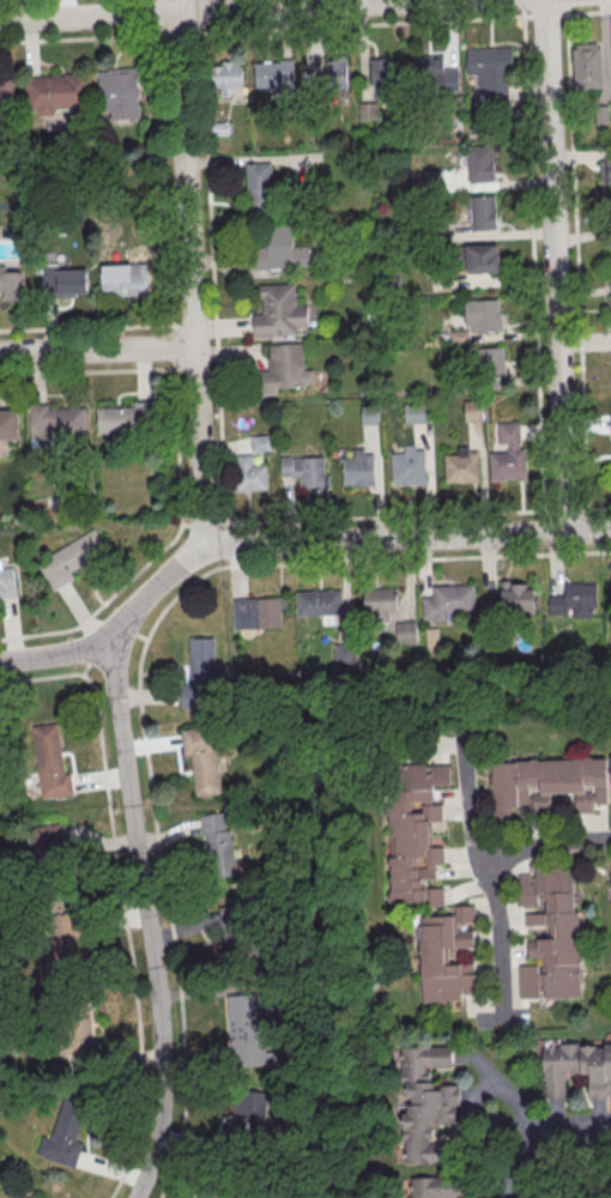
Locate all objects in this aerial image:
road: (193, 8)
road: (588, 12)
road: (99, 37)
building: (491, 65)
building: (587, 65)
building: (226, 75)
building: (381, 78)
building: (119, 92)
building: (479, 163)
building: (605, 170)
building: (259, 183)
building: (483, 212)
building: (277, 247)
road: (575, 254)
road: (531, 255)
building: (480, 258)
road: (210, 261)
road: (553, 265)
road: (192, 273)
building: (123, 280)
building: (12, 282)
building: (69, 282)
building: (610, 302)
building: (279, 311)
building: (482, 314)
road: (98, 346)
building: (491, 362)
building: (284, 369)
building: (472, 410)
building: (416, 412)
building: (369, 416)
building: (126, 419)
building: (54, 420)
building: (8, 423)
building: (261, 442)
building: (407, 465)
building: (508, 465)
building: (460, 467)
building: (304, 470)
building: (356, 470)
building: (250, 473)
road: (417, 515)
road: (284, 541)
building: (71, 557)
road: (415, 558)
building: (6, 582)
building: (570, 597)
building: (610, 597)
building: (379, 600)
building: (446, 601)
building: (316, 603)
building: (509, 603)
building: (254, 610)
building: (406, 631)
building: (345, 658)
building: (201, 674)
building: (202, 758)
building: (50, 761)
building: (610, 772)
building: (545, 785)
building: (415, 833)
building: (48, 842)
building: (219, 843)
road: (546, 845)
building: (610, 866)
road: (490, 875)
building: (610, 881)
road: (147, 920)
building: (235, 930)
building: (549, 934)
building: (446, 955)
building: (253, 1030)
building: (576, 1066)
building: (427, 1103)
building: (247, 1111)
road: (508, 1113)
building: (65, 1133)
road: (537, 1133)
building: (435, 1186)
building: (214, 1192)
building: (35, 1196)

